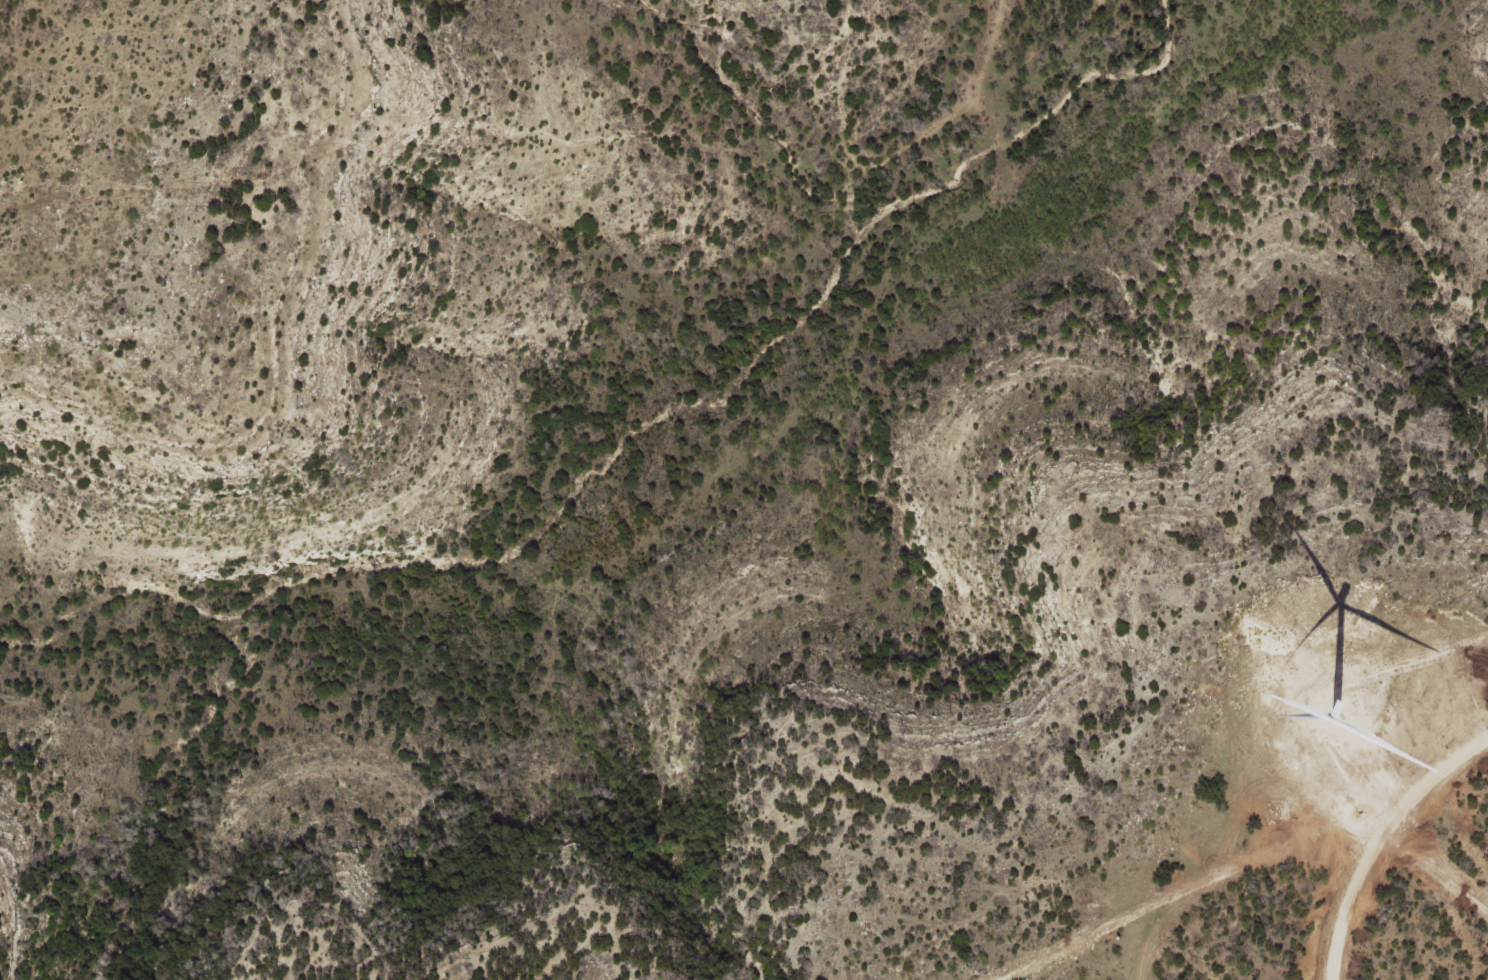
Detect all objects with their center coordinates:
wind turbine: (1327, 687)

